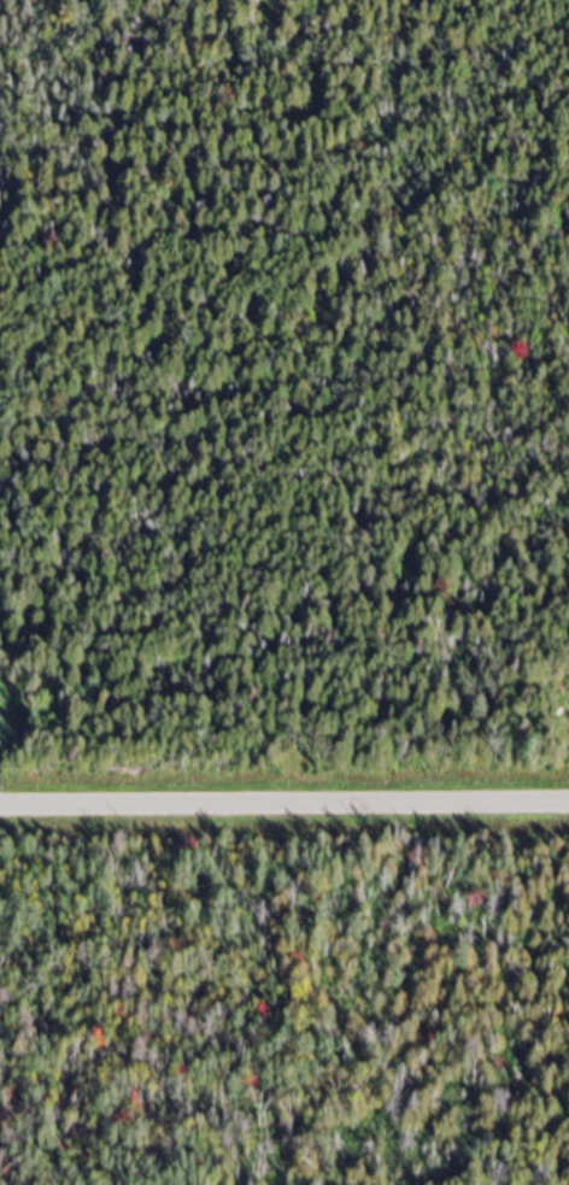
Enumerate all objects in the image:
road: (134, 391)
road: (284, 787)

